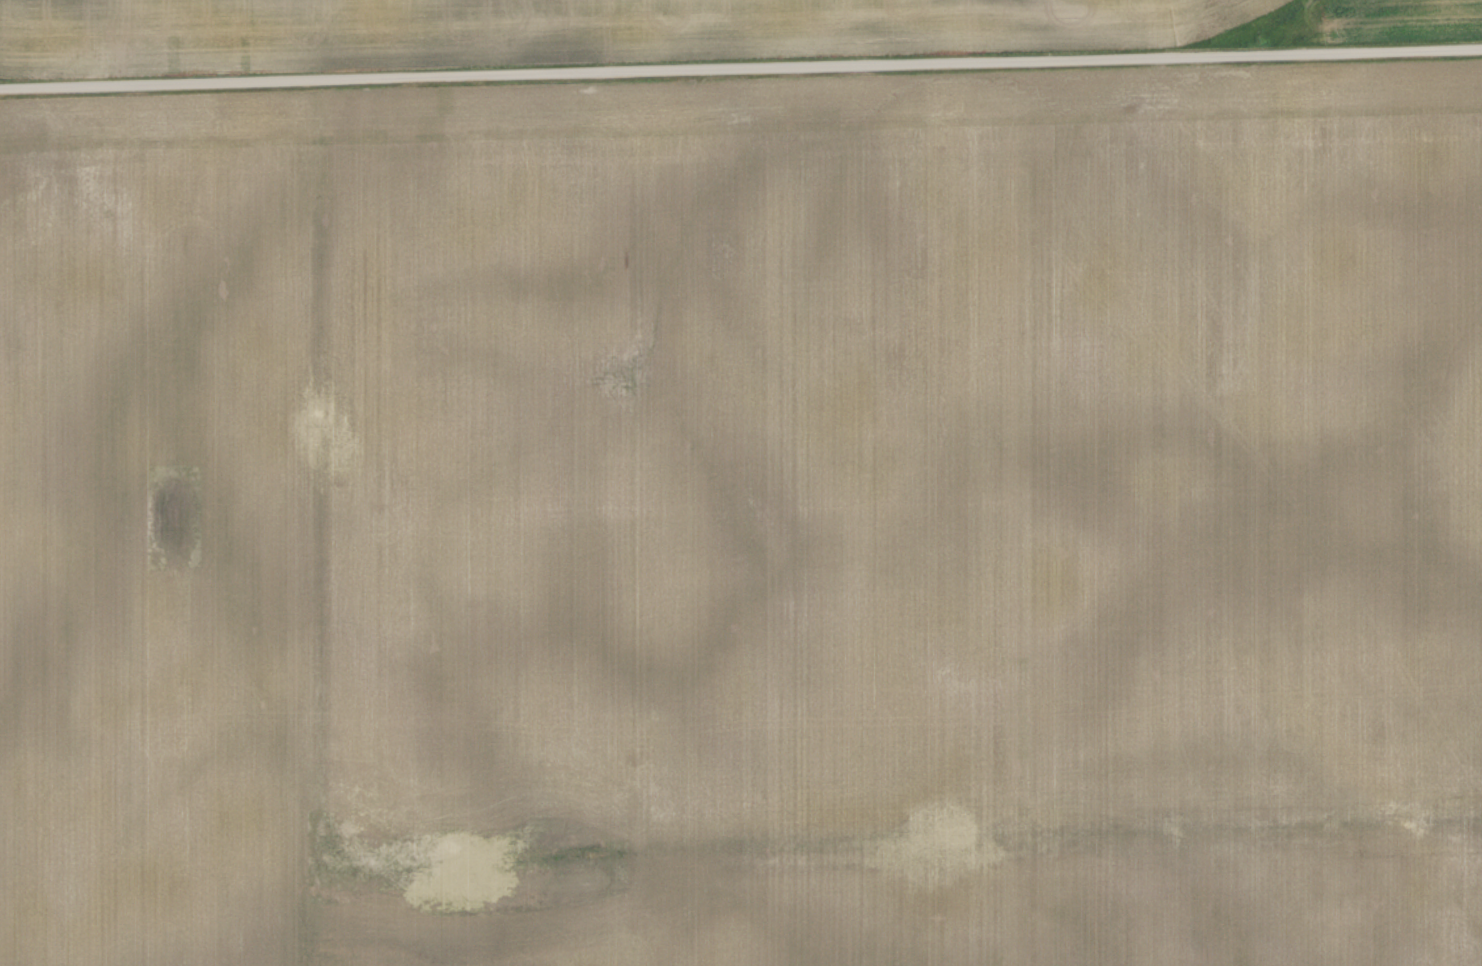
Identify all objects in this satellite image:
road: (741, 67)

